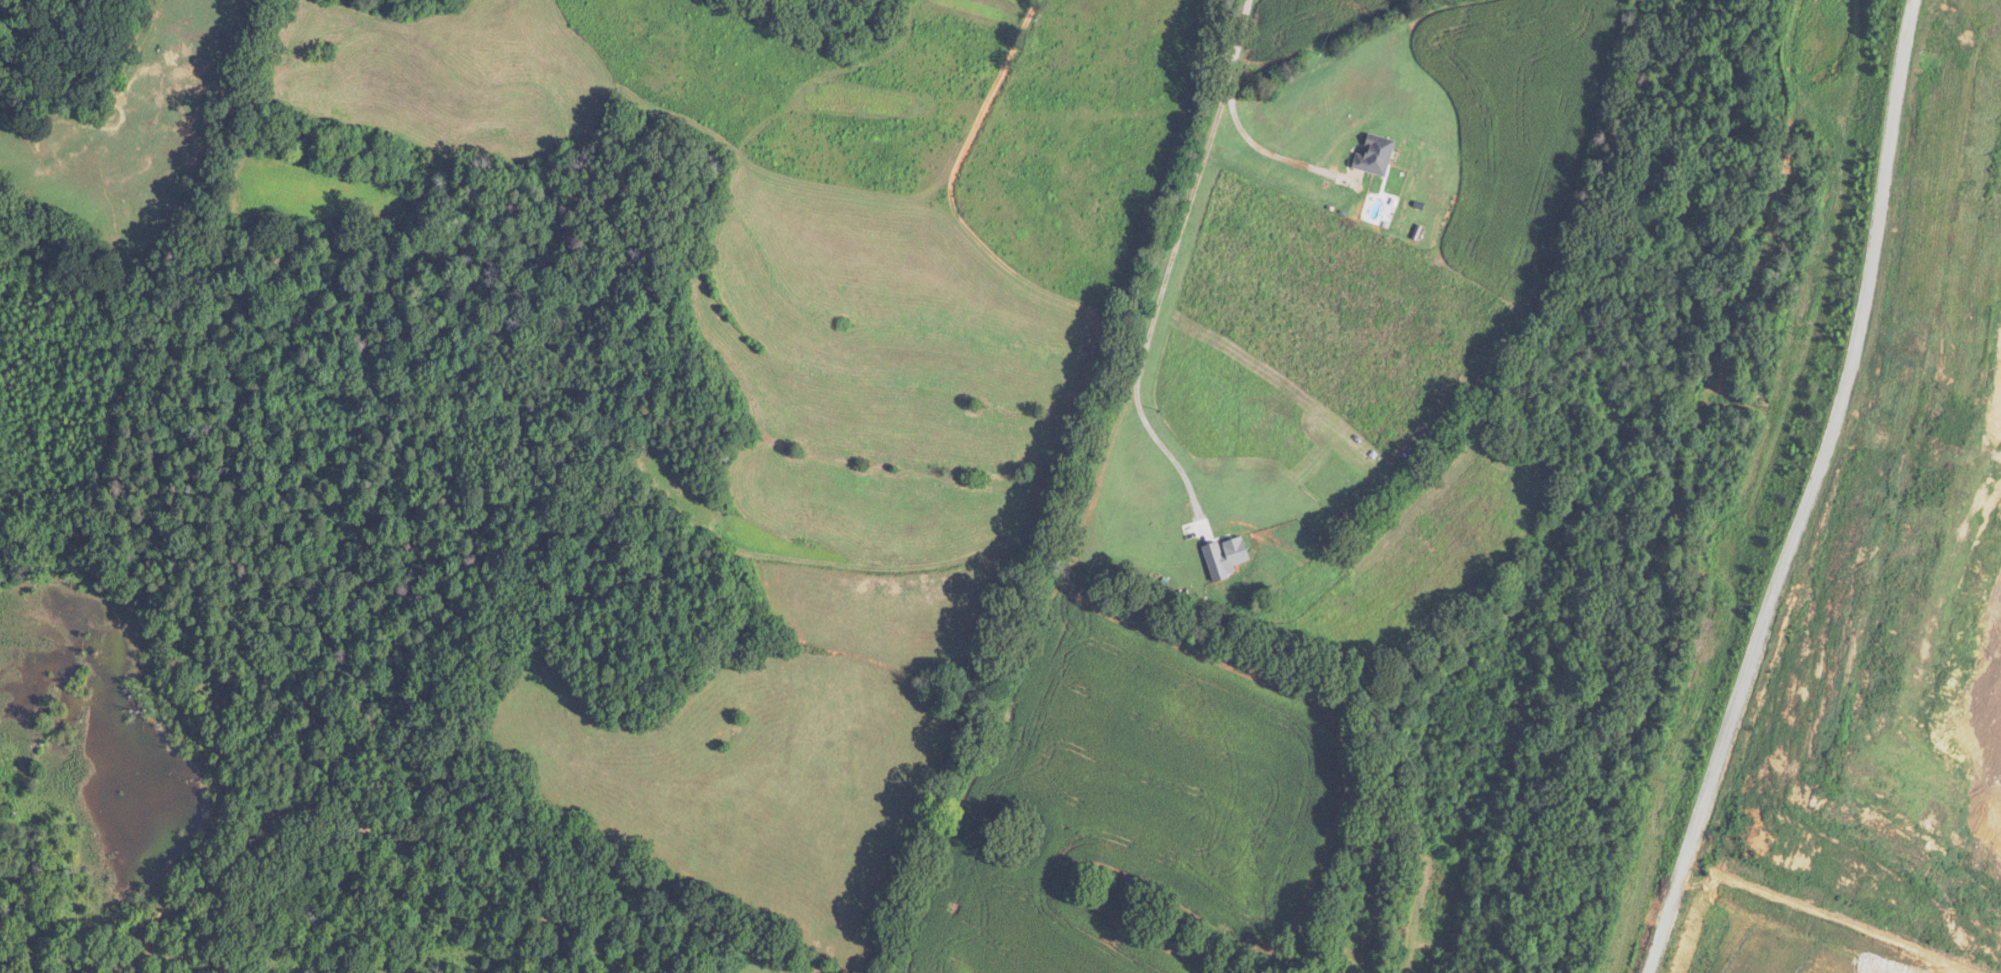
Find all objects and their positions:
road: (1259, 144)
building: (1376, 154)
road: (1108, 285)
road: (1152, 436)

